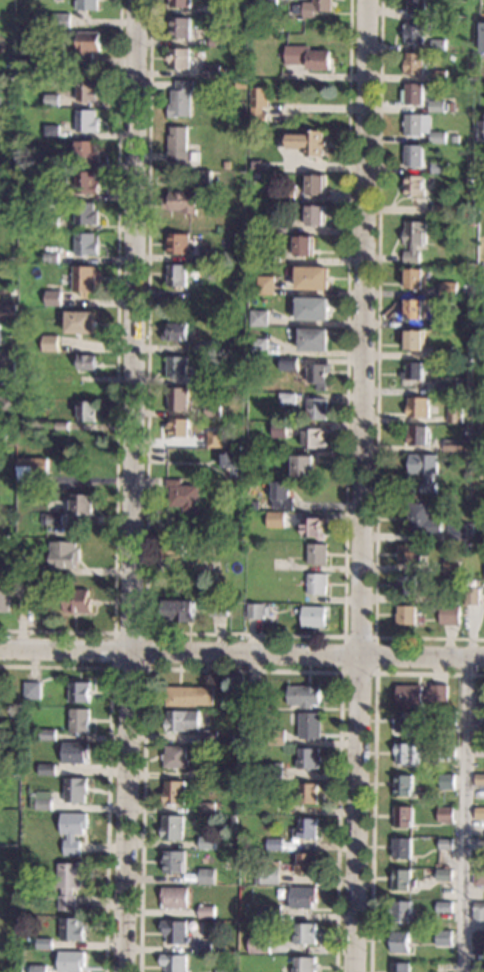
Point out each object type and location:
building: (265, 2)
building: (180, 3)
building: (87, 5)
building: (418, 7)
building: (220, 8)
building: (314, 8)
building: (483, 16)
building: (63, 21)
building: (180, 27)
building: (418, 32)
building: (483, 38)
building: (217, 41)
building: (439, 45)
building: (87, 46)
building: (179, 58)
building: (309, 58)
building: (415, 63)
building: (213, 71)
building: (440, 76)
building: (242, 84)
building: (86, 91)
building: (415, 94)
building: (182, 99)
building: (52, 100)
building: (260, 105)
building: (438, 106)
building: (453, 107)
building: (87, 120)
building: (425, 128)
building: (53, 130)
building: (482, 131)
building: (456, 139)
building: (308, 143)
building: (181, 147)
building: (87, 152)
building: (414, 155)
building: (54, 162)
building: (227, 165)
building: (257, 166)
building: (441, 168)
building: (204, 179)
building: (468, 181)
building: (87, 182)
building: (317, 184)
building: (415, 186)
building: (54, 193)
building: (289, 193)
building: (182, 202)
building: (474, 208)
building: (441, 210)
building: (86, 213)
building: (316, 215)
building: (52, 222)
building: (472, 223)
building: (280, 227)
building: (414, 240)
building: (178, 243)
building: (86, 244)
building: (304, 246)
building: (51, 255)
building: (272, 255)
building: (208, 256)
building: (177, 276)
building: (313, 278)
building: (84, 279)
building: (415, 279)
building: (266, 285)
building: (48, 288)
building: (449, 290)
building: (243, 294)
building: (52, 299)
building: (313, 309)
building: (415, 309)
building: (8, 312)
building: (259, 318)
building: (443, 321)
building: (457, 321)
building: (80, 322)
building: (178, 332)
building: (314, 339)
building: (415, 340)
building: (50, 344)
building: (226, 344)
building: (258, 346)
building: (443, 353)
building: (87, 362)
building: (289, 364)
building: (7, 367)
building: (176, 367)
building: (414, 372)
road: (115, 373)
road: (377, 373)
building: (318, 374)
building: (62, 378)
building: (206, 380)
building: (450, 387)
building: (177, 398)
building: (287, 398)
building: (7, 404)
building: (418, 408)
building: (316, 409)
building: (86, 411)
building: (212, 411)
building: (454, 415)
building: (228, 424)
building: (240, 424)
building: (61, 426)
building: (178, 427)
building: (481, 428)
building: (279, 430)
building: (419, 436)
building: (3, 437)
building: (314, 438)
building: (214, 439)
building: (459, 446)
building: (242, 459)
building: (229, 464)
building: (302, 466)
building: (61, 468)
building: (31, 469)
building: (424, 471)
building: (199, 480)
road: (132, 486)
road: (361, 486)
building: (182, 496)
building: (281, 496)
building: (80, 504)
building: (254, 505)
building: (53, 519)
building: (275, 519)
building: (421, 519)
building: (49, 528)
building: (313, 528)
building: (461, 533)
building: (213, 546)
building: (174, 551)
building: (63, 554)
building: (316, 554)
building: (408, 555)
building: (281, 565)
building: (451, 567)
building: (36, 571)
building: (453, 580)
building: (316, 584)
building: (406, 585)
building: (29, 592)
building: (5, 593)
building: (451, 598)
building: (473, 598)
building: (77, 601)
building: (218, 607)
building: (272, 608)
building: (178, 611)
building: (256, 611)
building: (405, 615)
building: (449, 615)
building: (312, 617)
road: (247, 634)
road: (242, 654)
road: (144, 668)
road: (241, 670)
road: (373, 673)
building: (32, 691)
building: (79, 692)
building: (252, 694)
building: (419, 695)
building: (189, 696)
building: (304, 696)
building: (480, 703)
building: (448, 718)
building: (480, 719)
building: (80, 721)
building: (182, 721)
building: (409, 722)
building: (310, 726)
building: (48, 735)
building: (210, 736)
building: (277, 737)
building: (234, 739)
building: (480, 750)
building: (76, 753)
building: (447, 753)
building: (408, 754)
building: (176, 757)
building: (309, 759)
road: (109, 764)
road: (373, 767)
building: (47, 770)
building: (274, 771)
building: (210, 774)
building: (480, 779)
building: (447, 782)
building: (404, 785)
building: (76, 789)
building: (175, 793)
building: (309, 793)
building: (43, 801)
building: (208, 808)
building: (480, 813)
building: (447, 815)
building: (404, 816)
road: (464, 816)
building: (236, 820)
building: (173, 828)
building: (307, 829)
building: (74, 831)
building: (208, 842)
building: (276, 844)
building: (447, 844)
building: (402, 848)
building: (176, 862)
building: (308, 863)
building: (435, 865)
building: (228, 866)
building: (268, 875)
building: (445, 875)
building: (208, 877)
building: (479, 877)
building: (404, 880)
building: (71, 883)
building: (24, 891)
building: (305, 897)
building: (177, 898)
building: (445, 907)
building: (208, 912)
building: (478, 912)
building: (274, 913)
building: (405, 913)
building: (74, 929)
building: (177, 932)
building: (306, 934)
building: (479, 938)
building: (445, 939)
building: (402, 942)
building: (46, 944)
building: (261, 944)
building: (206, 947)
building: (72, 961)
building: (176, 963)
building: (307, 965)
building: (402, 967)
building: (445, 967)
building: (479, 968)
building: (41, 969)
building: (225, 971)

